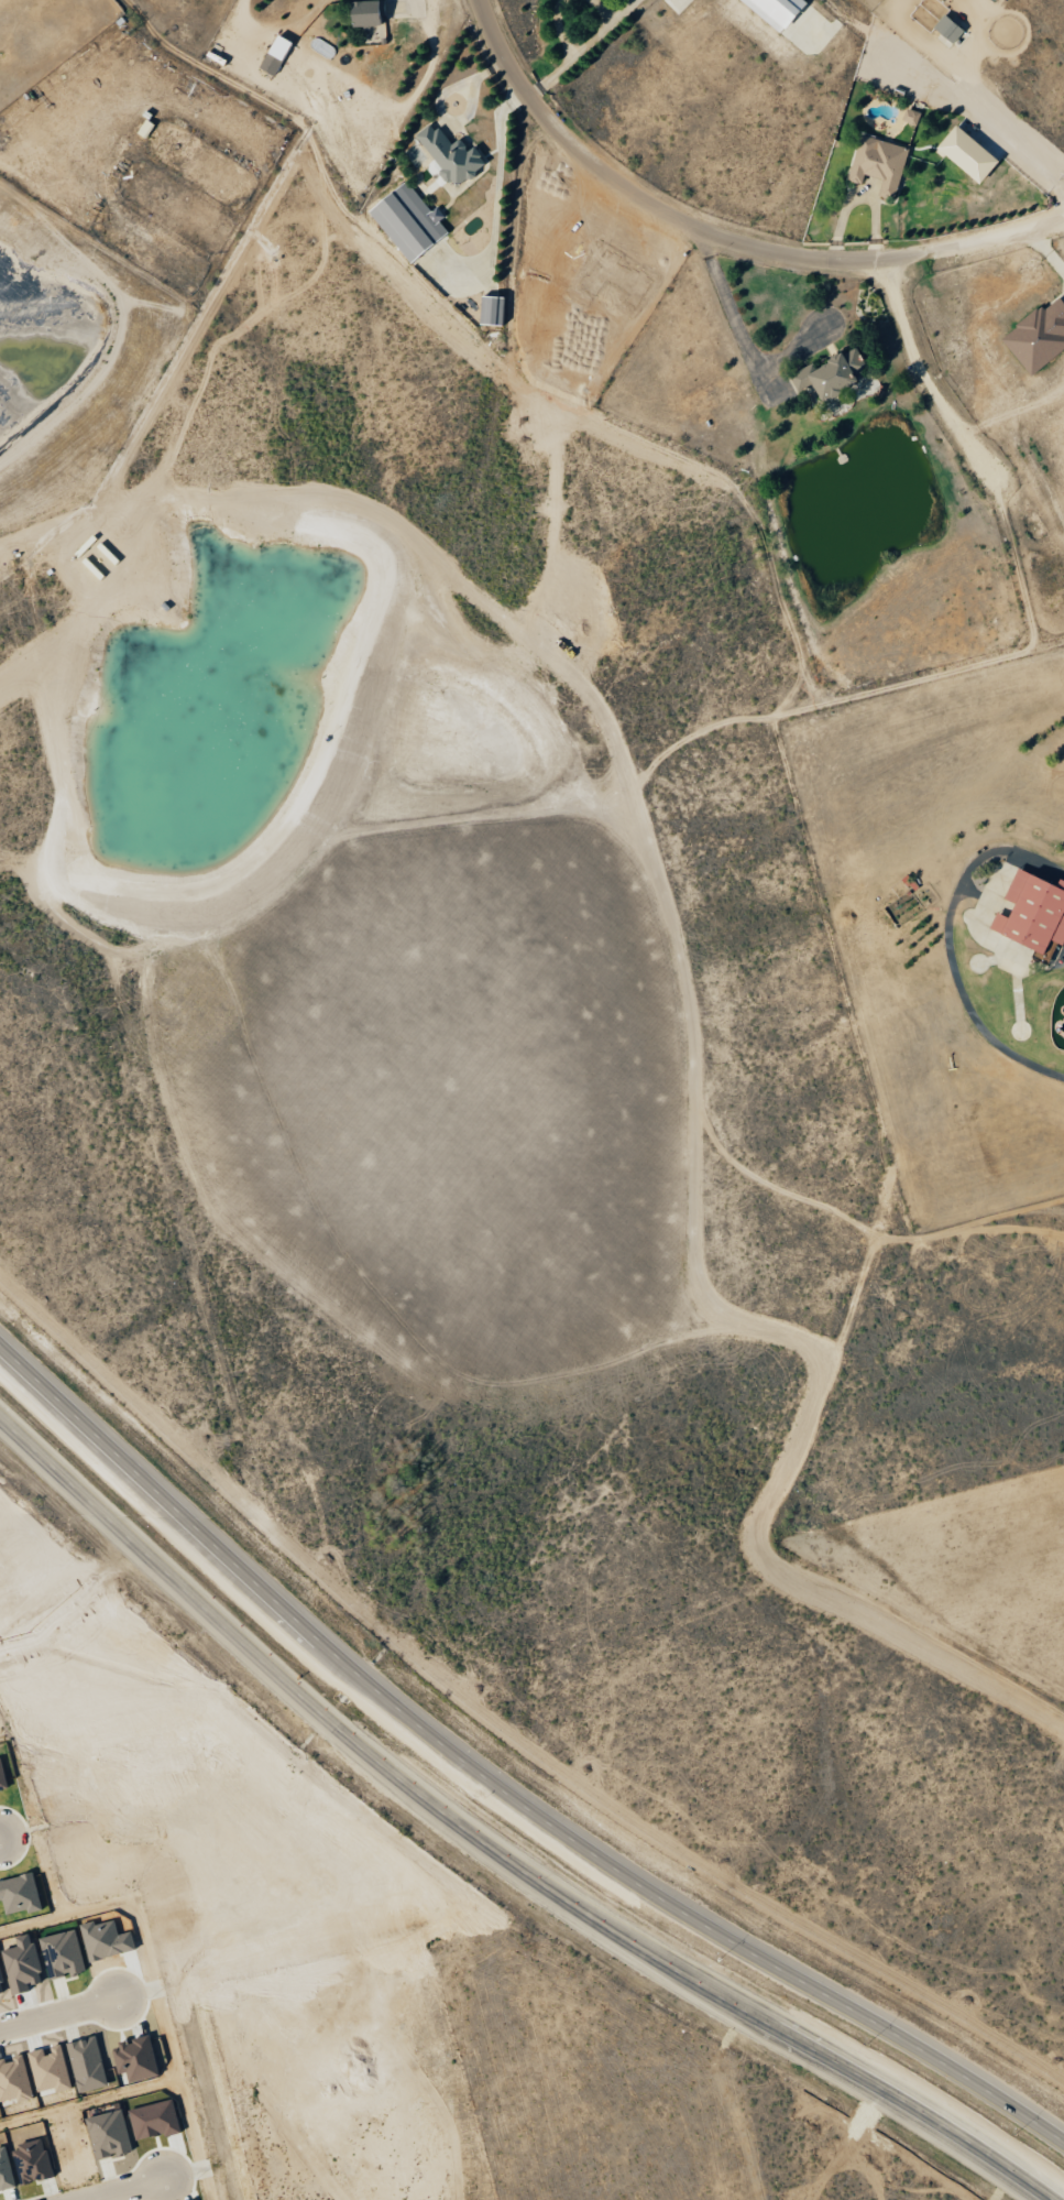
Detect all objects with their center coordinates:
building: (995, 0)
building: (777, 11)
building: (368, 13)
building: (947, 30)
road: (585, 48)
building: (276, 54)
road: (950, 92)
building: (911, 116)
building: (968, 153)
building: (450, 154)
building: (879, 163)
building: (408, 221)
road: (723, 235)
road: (727, 301)
building: (492, 309)
building: (1038, 337)
building: (831, 374)
road: (933, 386)
building: (1033, 912)
road: (947, 945)
road: (74, 1602)
road: (2, 1636)
building: (2, 1778)
road: (498, 1787)
road: (495, 1843)
building: (19, 1894)
building: (106, 1940)
building: (63, 1954)
building: (22, 1964)
building: (1, 1985)
road: (57, 2015)
building: (136, 2059)
building: (87, 2065)
building: (50, 2070)
building: (13, 2080)
building: (154, 2121)
building: (109, 2135)
building: (32, 2161)
building: (6, 2171)
road: (121, 2189)

